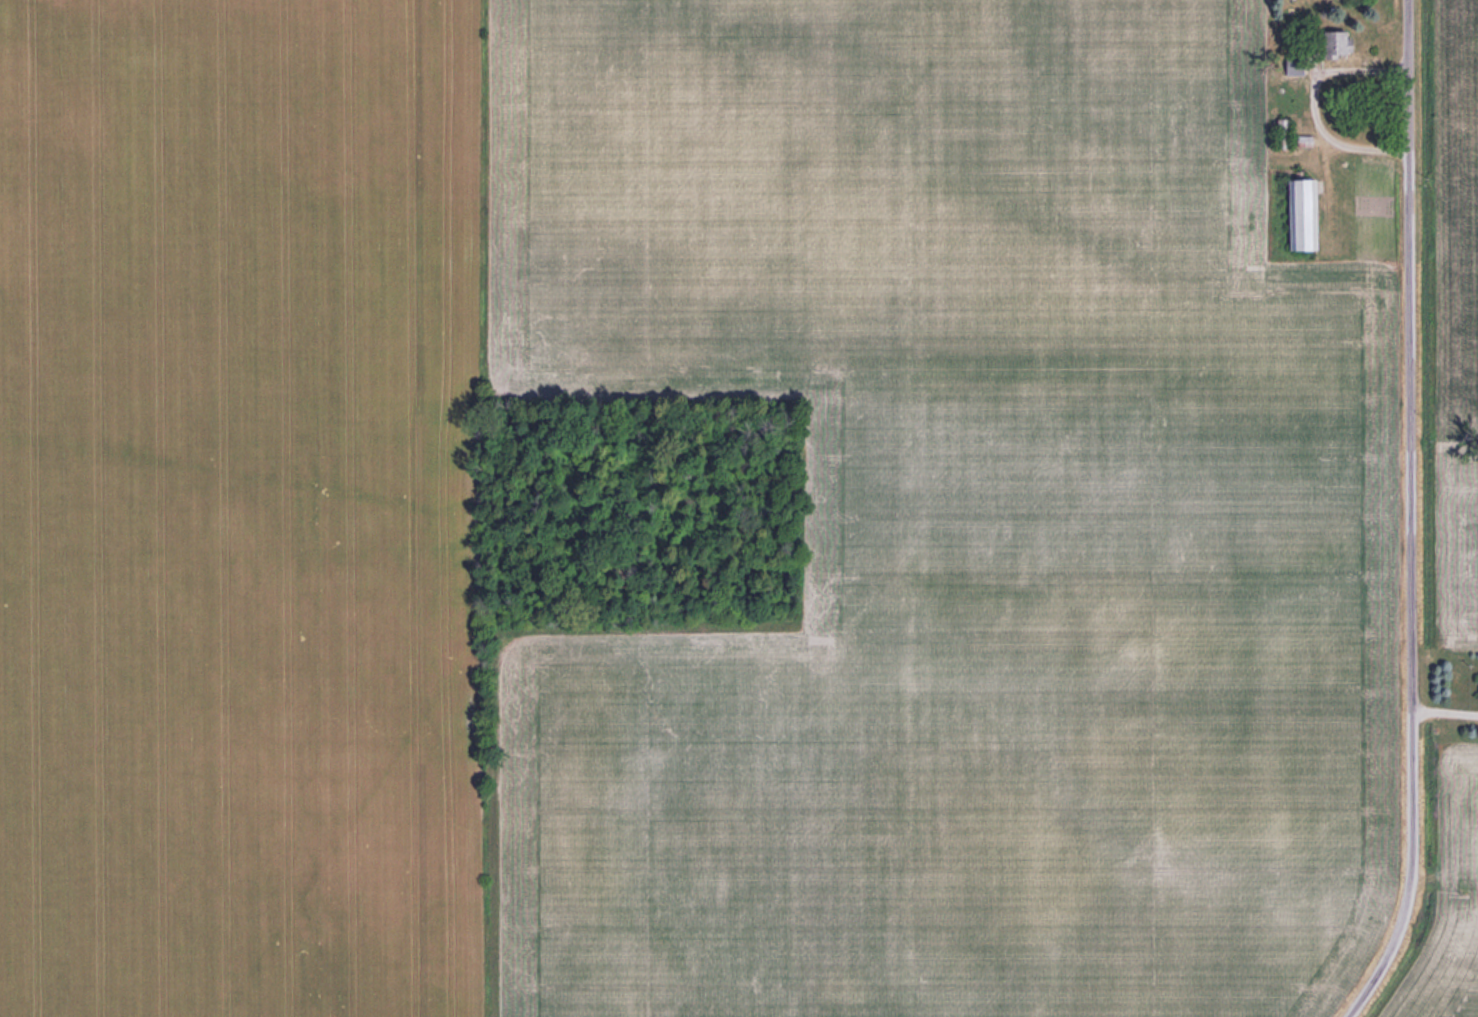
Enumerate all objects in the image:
building: (1333, 43)
building: (1291, 89)
building: (1281, 132)
building: (1302, 140)
building: (1299, 212)
road: (1410, 516)
building: (1477, 689)

